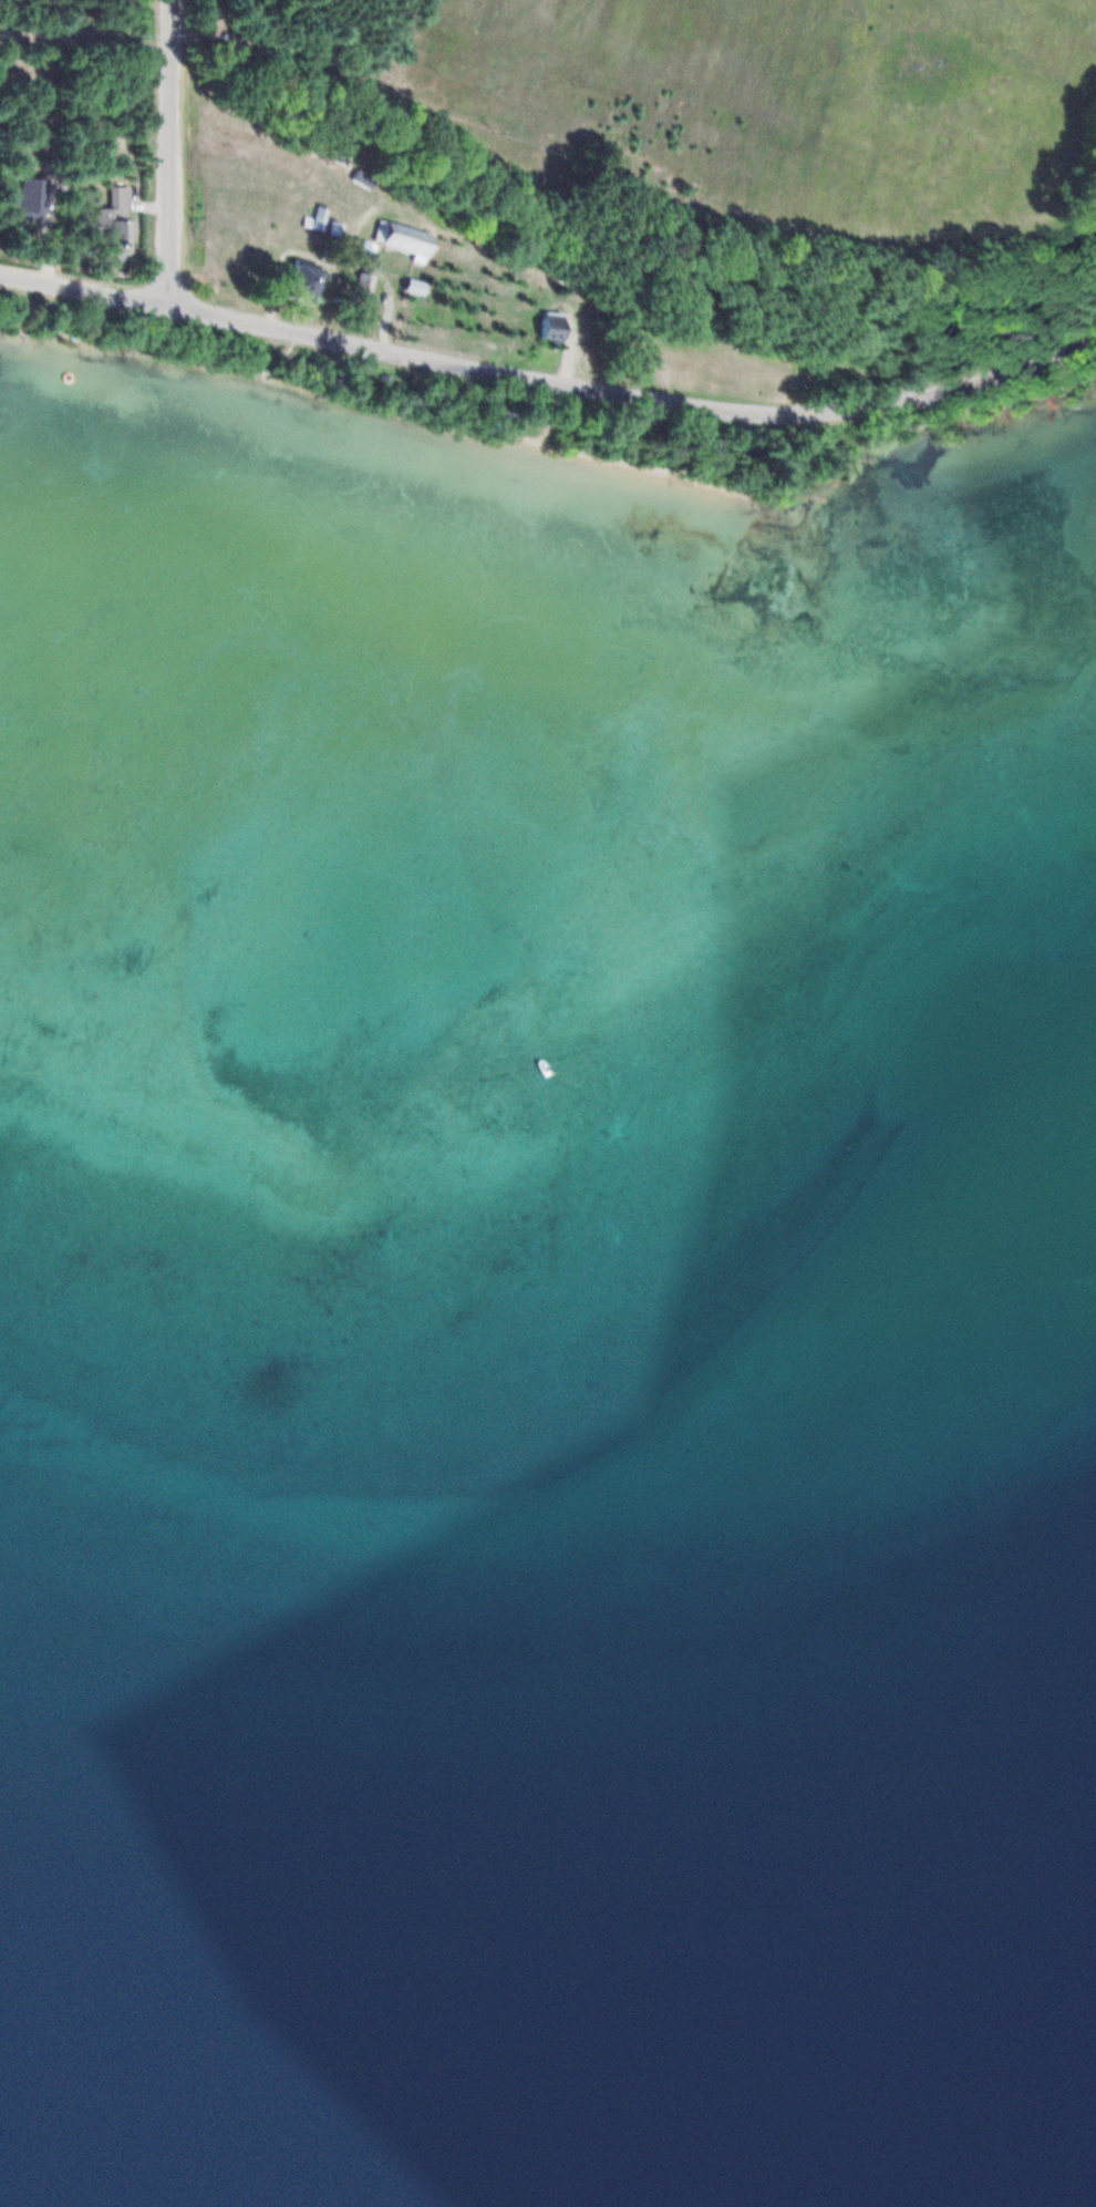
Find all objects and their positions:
road: (167, 152)
building: (27, 195)
building: (121, 234)
building: (407, 237)
building: (417, 283)
building: (556, 323)
road: (548, 379)

